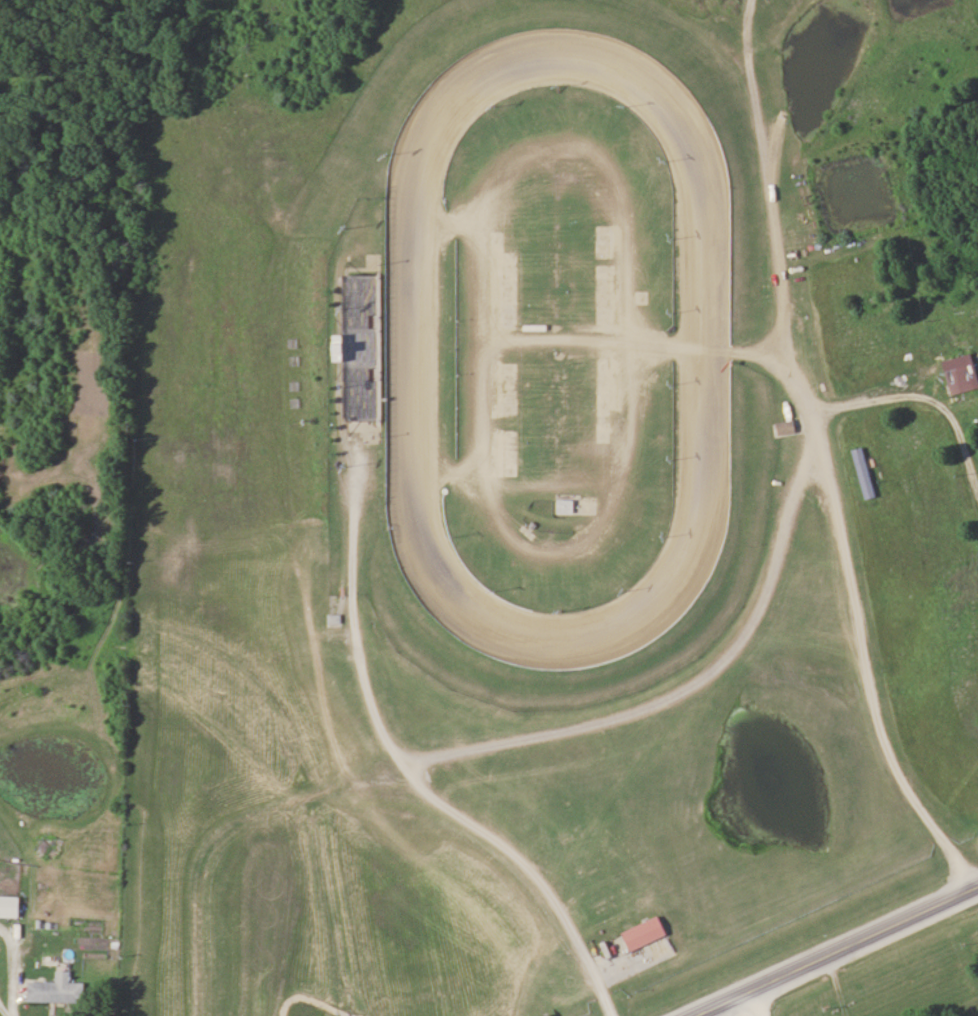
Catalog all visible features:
road: (777, 241)
building: (962, 373)
road: (919, 394)
building: (788, 427)
building: (865, 473)
building: (567, 504)
raceway: (690, 560)
building: (334, 619)
road: (347, 626)
road: (724, 659)
building: (10, 905)
building: (646, 931)
road: (834, 949)
road: (7, 974)
road: (829, 986)
building: (57, 989)
road: (754, 1002)
road: (0, 1015)

